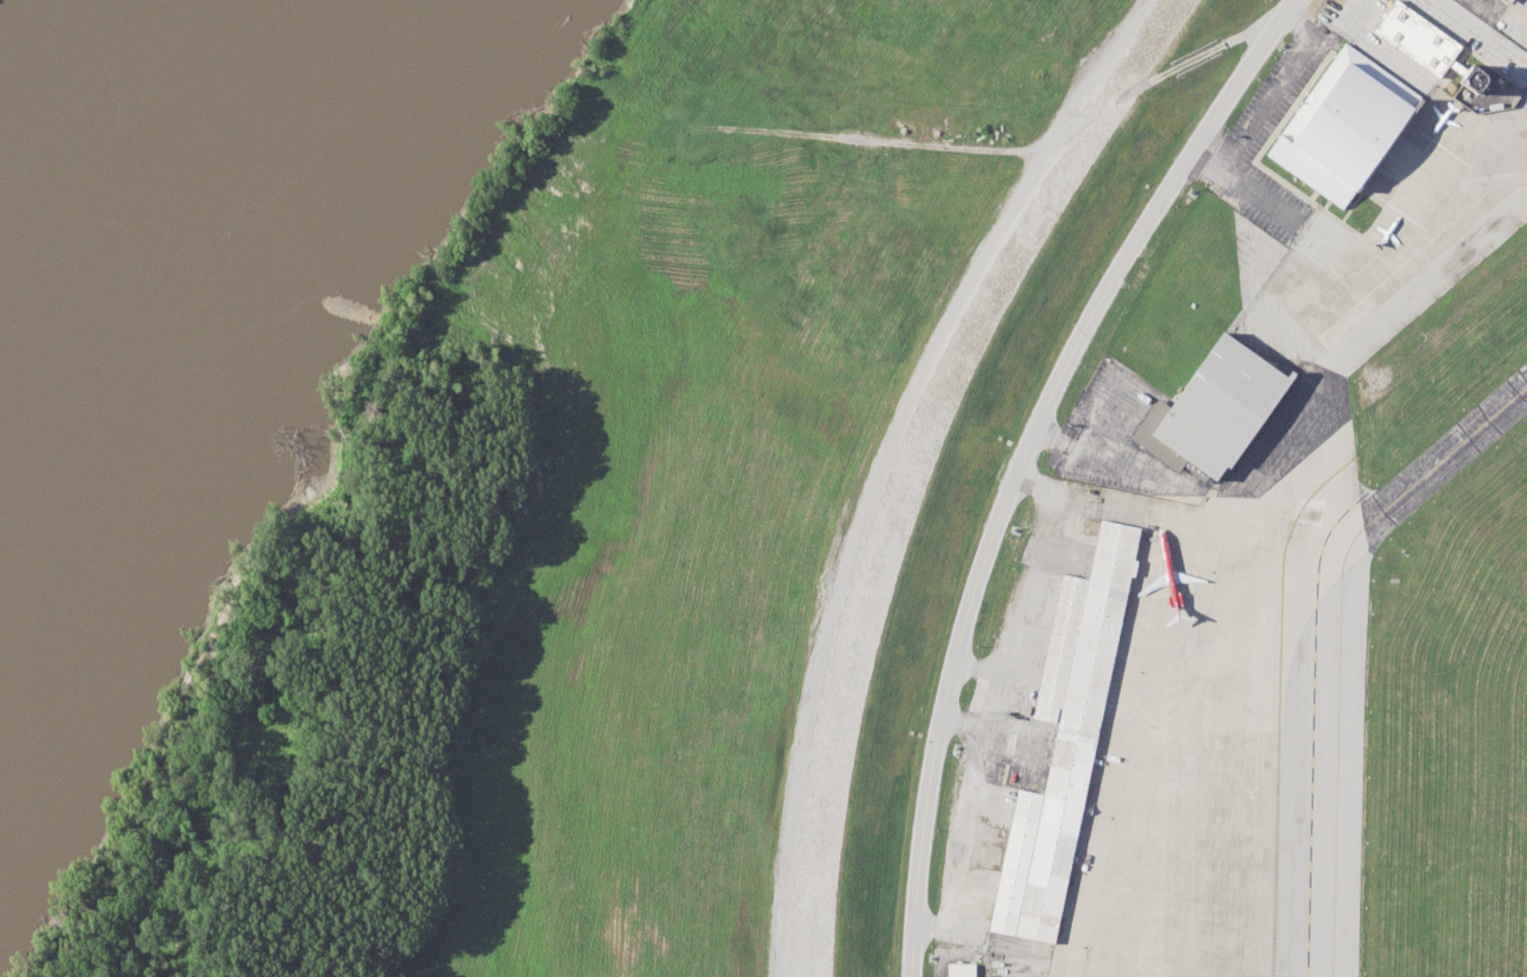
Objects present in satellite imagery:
airport hangar: (1513, 1)
building: (1513, 1)
road: (1478, 6)
building: (1417, 38)
road: (1162, 74)
building: (1473, 78)
road: (1273, 98)
airport hangar: (1343, 125)
building: (1343, 125)
river: (120, 216)
airport hangar: (1221, 406)
building: (1221, 406)
road: (1020, 458)
road: (882, 460)
airport apron: (1279, 534)
airport: (1283, 559)
airport taxiway: (1340, 641)
building: (1066, 738)
building: (960, 970)

